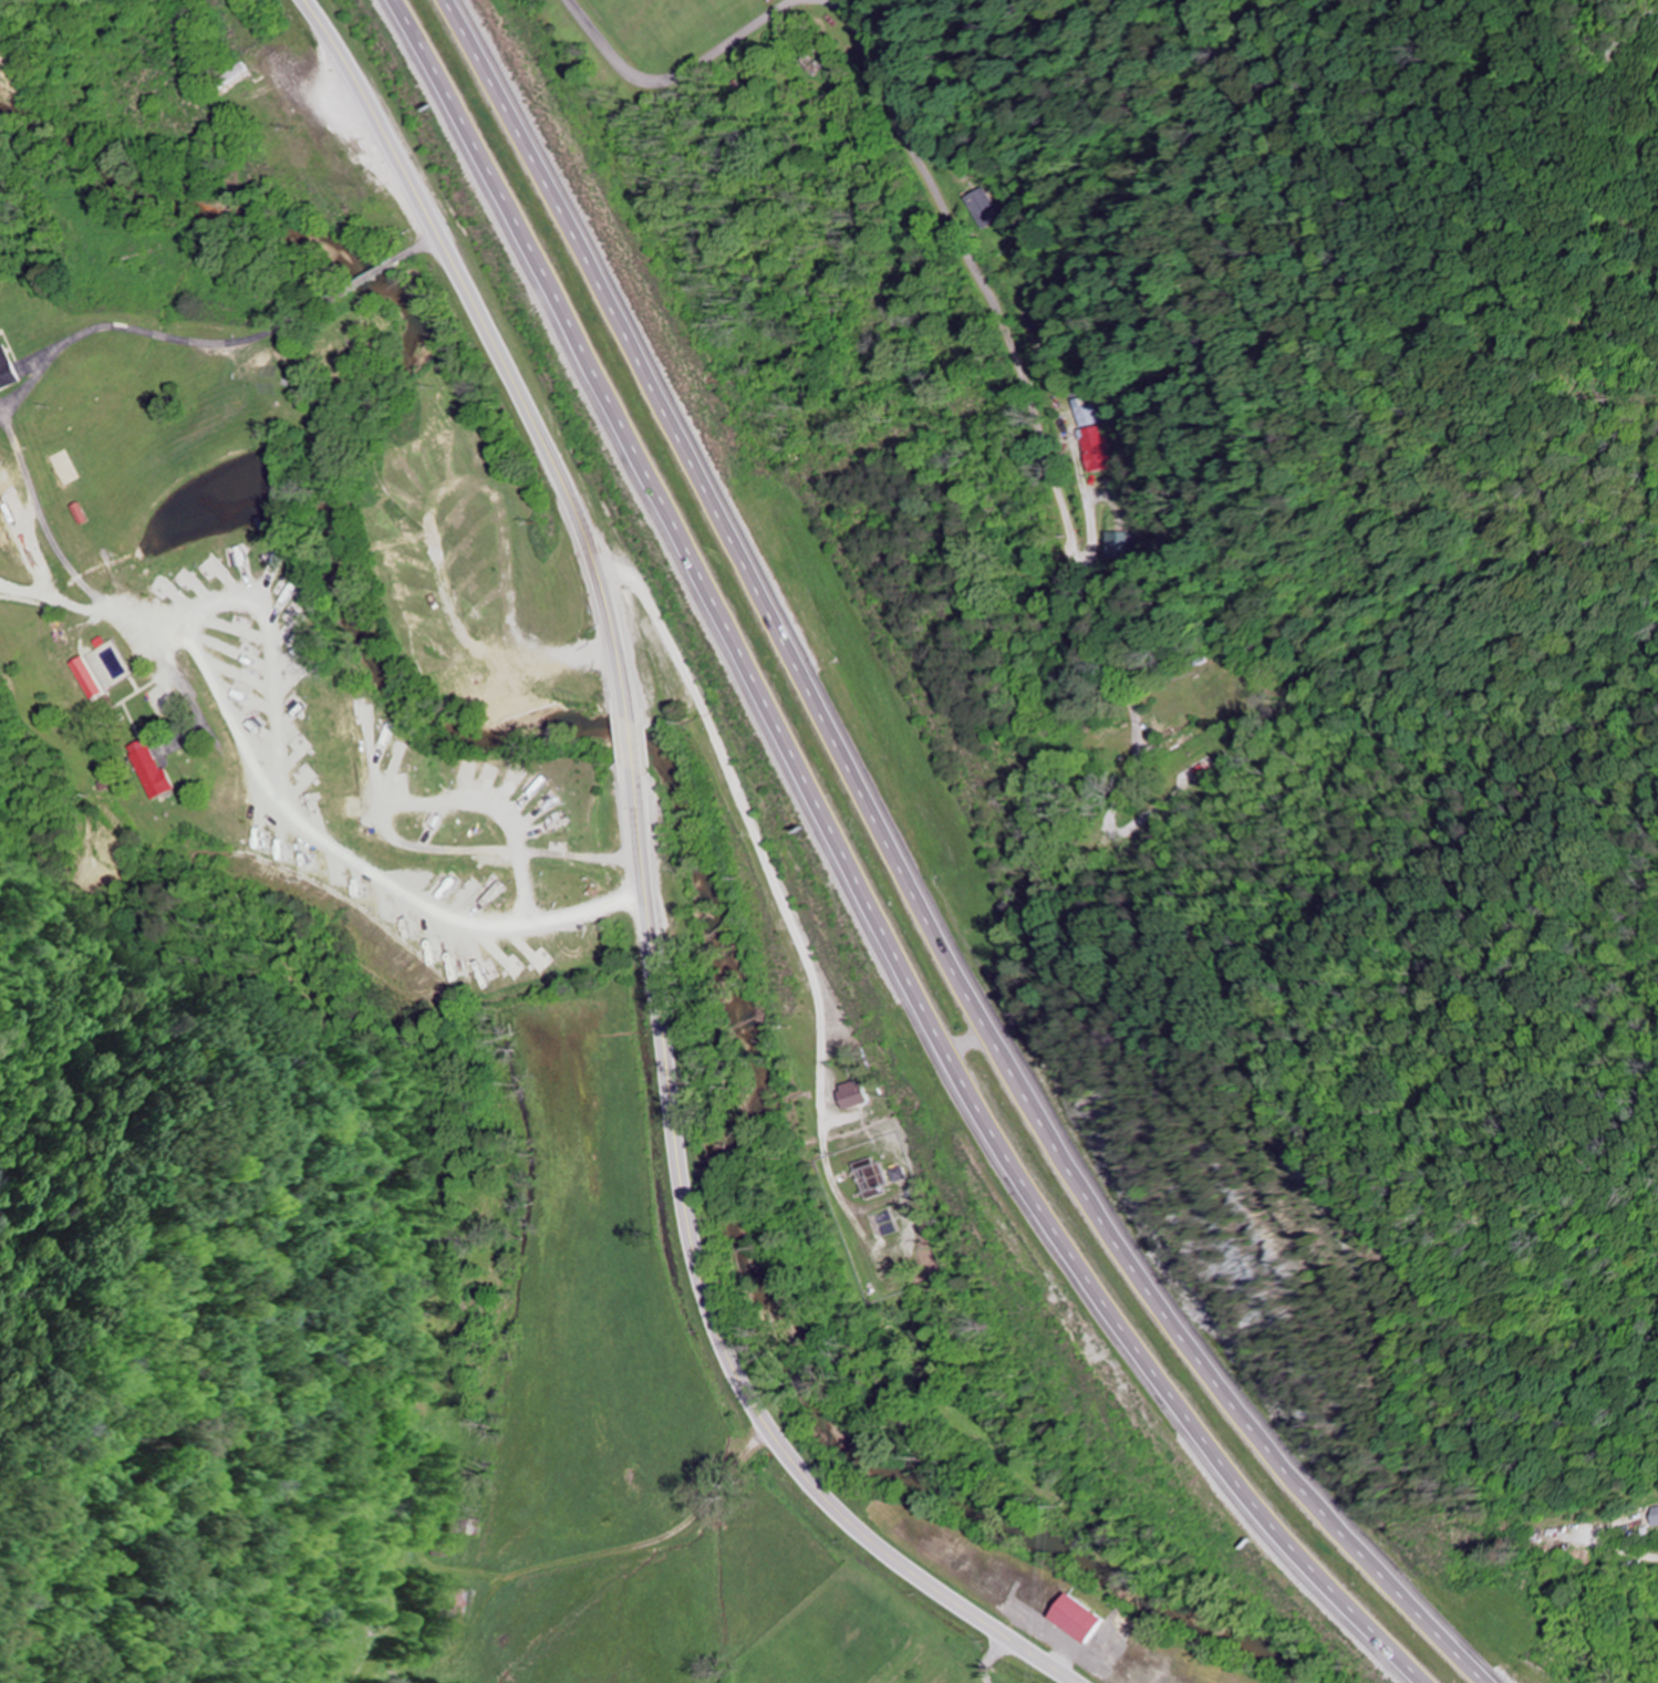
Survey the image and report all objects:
road: (584, 22)
building: (230, 80)
road: (654, 80)
building: (986, 208)
road: (992, 307)
road: (495, 347)
building: (4, 372)
building: (1084, 413)
building: (1095, 449)
road: (474, 463)
road: (446, 465)
road: (502, 477)
road: (418, 481)
road: (469, 511)
road: (408, 512)
road: (432, 533)
road: (407, 539)
building: (1117, 546)
road: (472, 557)
road: (410, 568)
road: (246, 578)
road: (224, 581)
road: (265, 582)
road: (197, 590)
road: (477, 592)
road: (416, 596)
road: (179, 600)
road: (278, 607)
road: (95, 612)
road: (484, 630)
road: (232, 631)
road: (429, 631)
road: (286, 632)
road: (232, 653)
road: (288, 656)
road: (444, 657)
road: (236, 675)
road: (475, 677)
building: (82, 678)
road: (288, 681)
road: (241, 696)
road: (288, 715)
road: (252, 736)
road: (380, 744)
road: (631, 746)
road: (291, 758)
road: (371, 759)
building: (147, 769)
road: (390, 770)
road: (467, 779)
road: (259, 781)
road: (488, 781)
river: (680, 786)
road: (508, 789)
road: (294, 791)
road: (525, 800)
road: (422, 801)
road: (533, 815)
road: (258, 819)
road: (314, 822)
road: (432, 823)
road: (539, 829)
road: (280, 834)
road: (302, 849)
road: (580, 858)
road: (333, 870)
road: (853, 879)
road: (912, 883)
road: (354, 884)
road: (436, 893)
road: (457, 901)
road: (381, 903)
road: (478, 906)
road: (405, 918)
road: (428, 937)
road: (450, 946)
road: (524, 946)
road: (496, 949)
road: (477, 953)
building: (853, 1095)
building: (899, 1175)
road: (707, 1303)
road: (754, 1447)
building: (1655, 1516)
road: (1651, 1558)
building: (1077, 1618)

